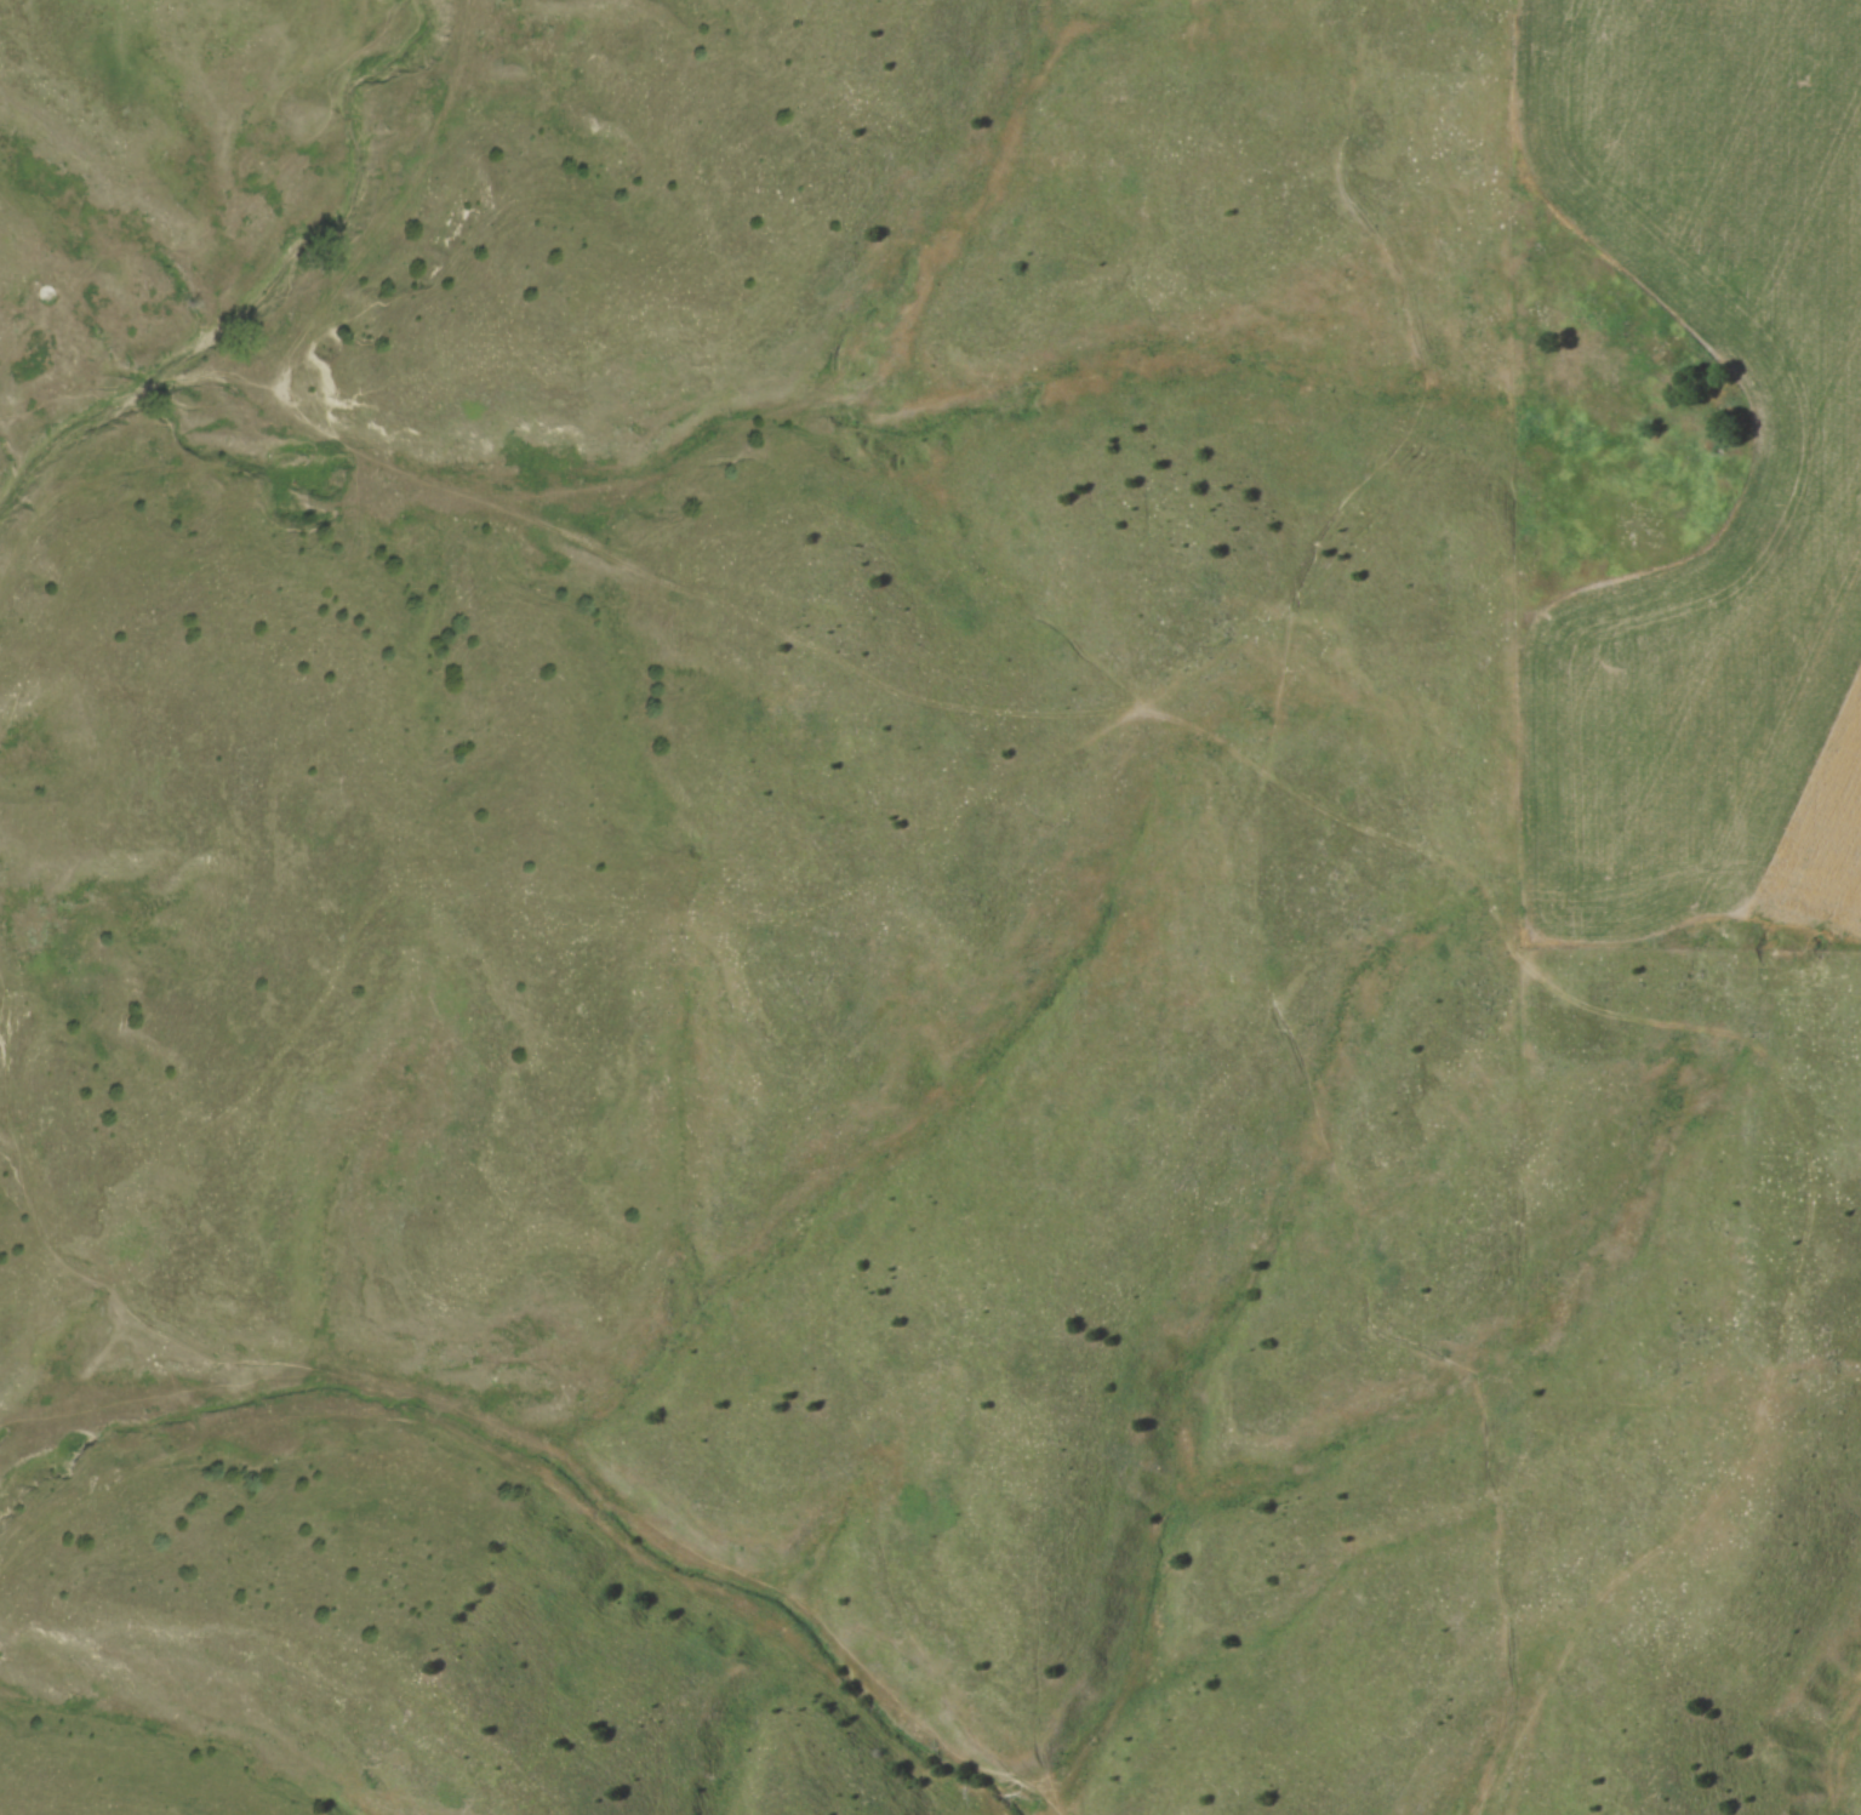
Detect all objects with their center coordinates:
crop: (1810, 461)

